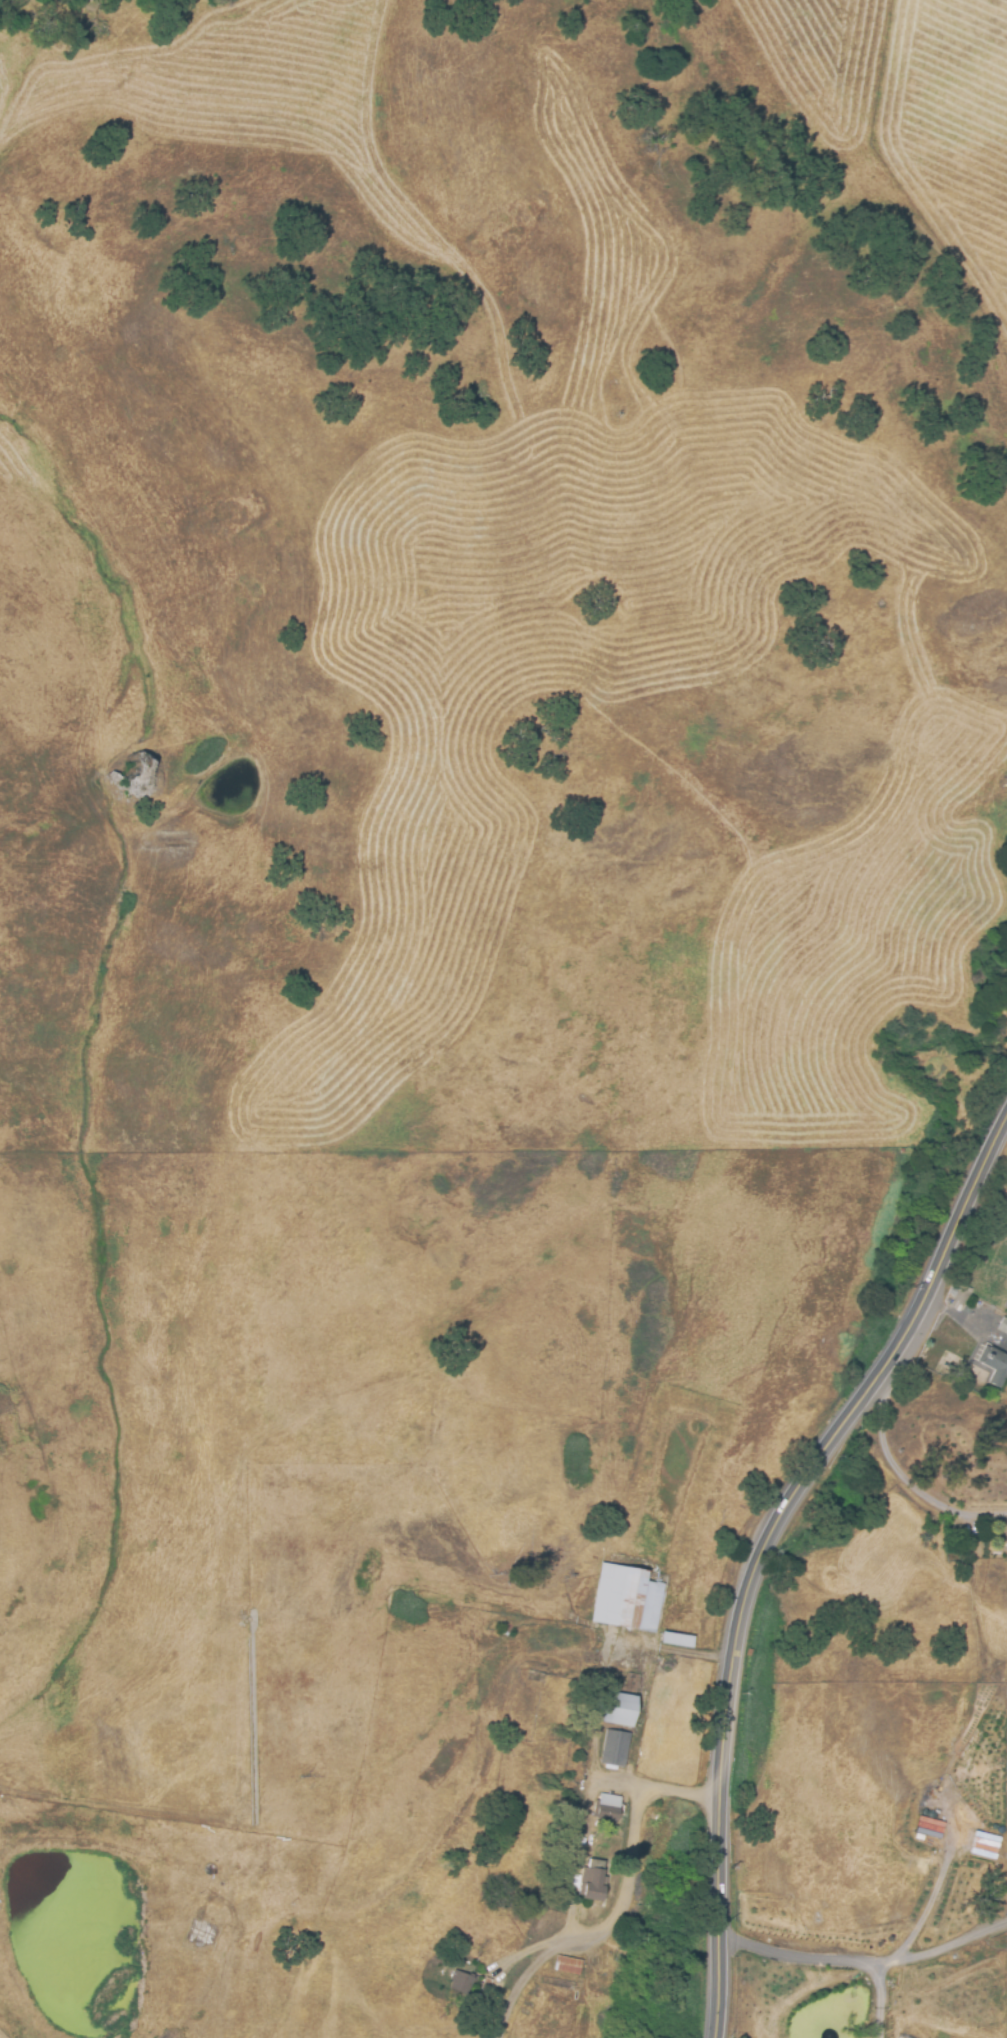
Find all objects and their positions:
building: (1006, 1304)
building: (1002, 1325)
building: (994, 1364)
road: (909, 1478)
road: (762, 1545)
building: (628, 1598)
building: (623, 1710)
building: (614, 1748)
building: (608, 1806)
building: (593, 1883)
road: (929, 1898)
road: (625, 1910)
road: (935, 1943)
road: (821, 1959)
building: (567, 1964)
building: (460, 1982)

